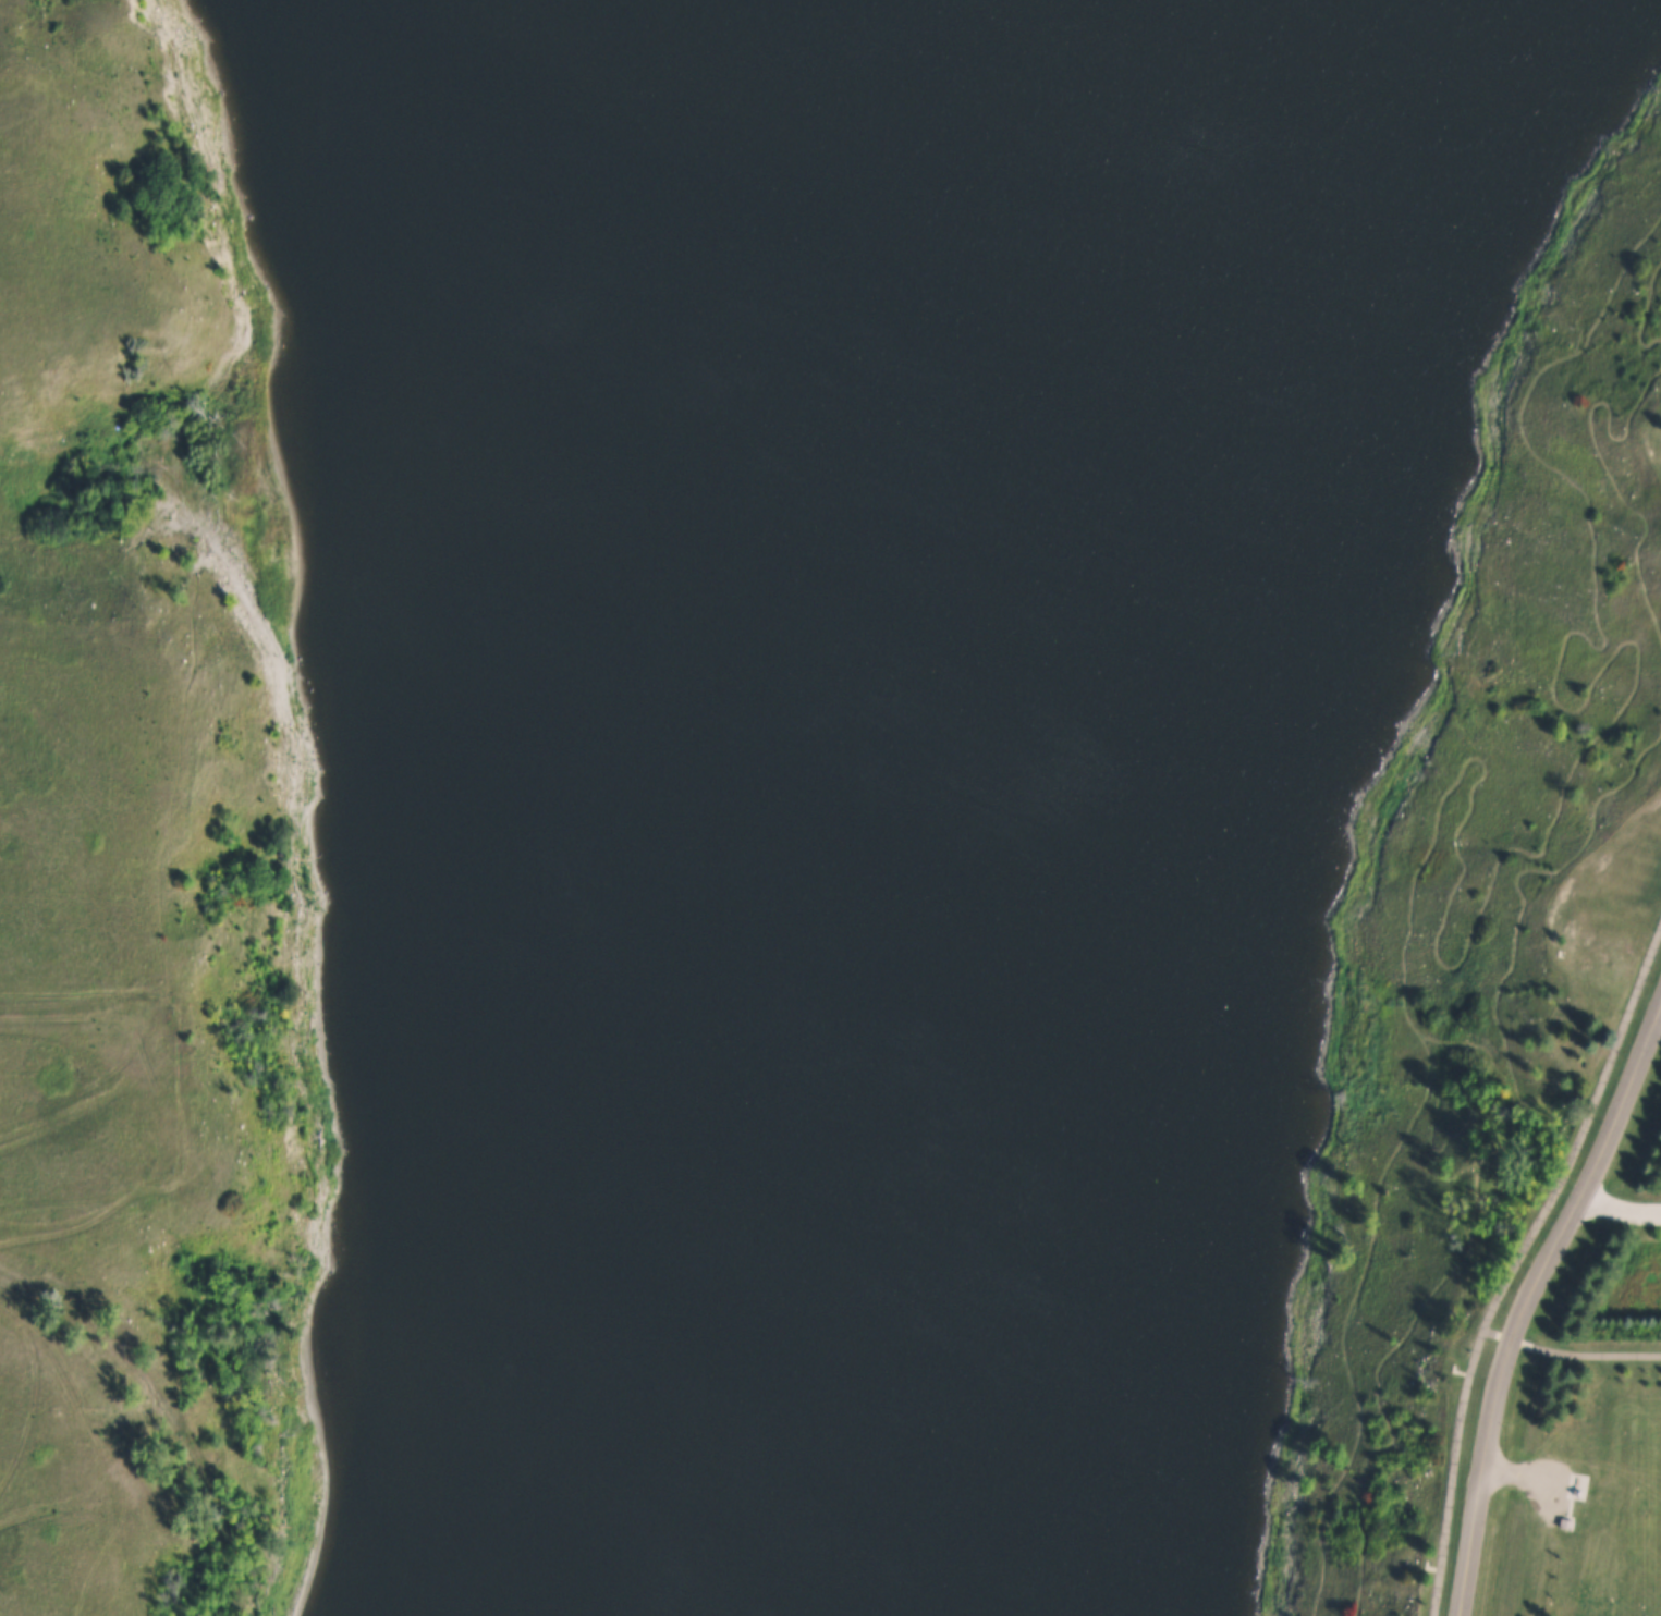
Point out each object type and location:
river: (696, 770)
road: (70, 1017)
road: (1660, 1018)
road: (1621, 1208)
road: (1513, 1261)
road: (1526, 1302)
road: (1570, 1356)
road: (1520, 1471)
building: (1571, 1523)
river: (670, 1578)
river: (716, 1578)

